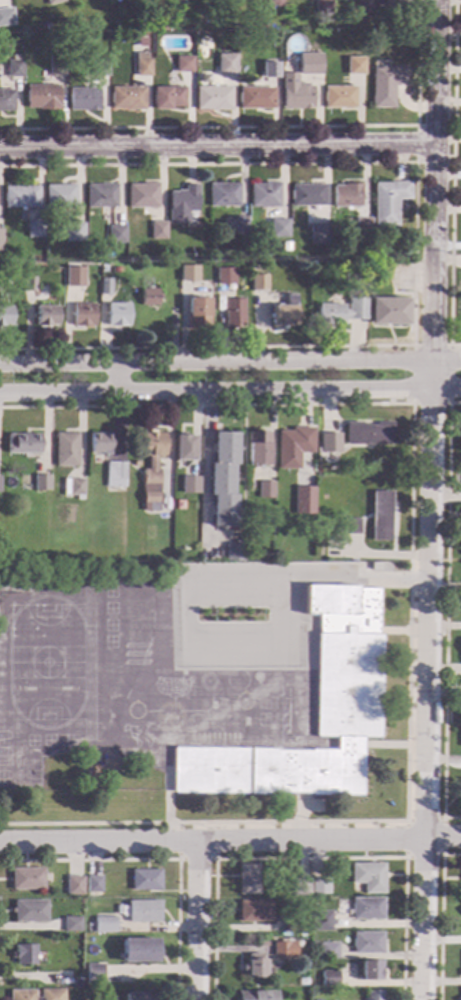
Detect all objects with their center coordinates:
building: (52, 1)
building: (274, 3)
building: (394, 3)
building: (365, 6)
building: (323, 7)
building: (6, 22)
building: (263, 26)
building: (263, 36)
building: (183, 64)
building: (225, 64)
building: (308, 64)
building: (141, 65)
building: (55, 66)
building: (354, 66)
building: (98, 68)
building: (13, 69)
building: (269, 69)
building: (387, 85)
building: (294, 93)
building: (41, 97)
building: (339, 97)
building: (126, 98)
building: (167, 98)
building: (256, 98)
building: (82, 99)
building: (212, 99)
building: (6, 100)
road: (271, 127)
road: (216, 147)
road: (415, 162)
road: (451, 179)
building: (224, 195)
building: (265, 195)
building: (308, 195)
building: (348, 195)
building: (59, 196)
building: (100, 196)
building: (142, 196)
building: (20, 197)
building: (389, 201)
building: (182, 204)
building: (241, 225)
building: (363, 227)
building: (279, 228)
building: (0, 229)
building: (34, 229)
building: (158, 231)
building: (74, 232)
building: (116, 234)
building: (319, 234)
building: (0, 241)
road: (414, 253)
building: (379, 254)
building: (255, 267)
building: (115, 271)
building: (26, 272)
building: (188, 274)
building: (224, 276)
building: (73, 277)
building: (258, 283)
building: (28, 284)
building: (104, 287)
building: (148, 297)
building: (341, 312)
building: (388, 312)
building: (232, 313)
building: (197, 314)
building: (283, 314)
building: (82, 315)
building: (117, 315)
building: (4, 316)
building: (45, 316)
road: (412, 347)
road: (230, 365)
road: (112, 378)
road: (230, 389)
building: (369, 435)
building: (24, 443)
building: (100, 443)
building: (329, 444)
building: (183, 446)
building: (293, 447)
building: (257, 448)
building: (66, 450)
building: (136, 464)
building: (152, 469)
road: (241, 471)
building: (115, 476)
building: (222, 479)
building: (42, 482)
road: (202, 482)
building: (189, 484)
building: (250, 486)
building: (74, 488)
building: (264, 489)
road: (446, 493)
road: (431, 499)
building: (302, 500)
building: (381, 516)
building: (351, 527)
building: (338, 531)
building: (173, 535)
building: (165, 544)
building: (234, 553)
building: (374, 567)
road: (192, 580)
road: (409, 609)
road: (445, 614)
road: (394, 630)
building: (348, 703)
road: (316, 712)
road: (385, 744)
road: (168, 798)
road: (300, 808)
road: (230, 841)
road: (441, 855)
road: (311, 858)
road: (159, 860)
road: (196, 860)
building: (373, 878)
building: (27, 879)
building: (247, 879)
building: (145, 880)
building: (74, 886)
building: (93, 886)
building: (320, 886)
building: (301, 887)
building: (367, 908)
building: (29, 911)
building: (143, 911)
building: (254, 911)
road: (440, 918)
road: (197, 921)
building: (328, 922)
building: (291, 923)
building: (72, 924)
building: (104, 924)
building: (368, 943)
building: (284, 950)
building: (138, 951)
building: (328, 951)
building: (23, 955)
building: (255, 967)
building: (371, 971)
building: (93, 973)
building: (64, 978)
building: (330, 979)
building: (22, 995)
building: (374, 995)
building: (255, 996)
building: (136, 997)

